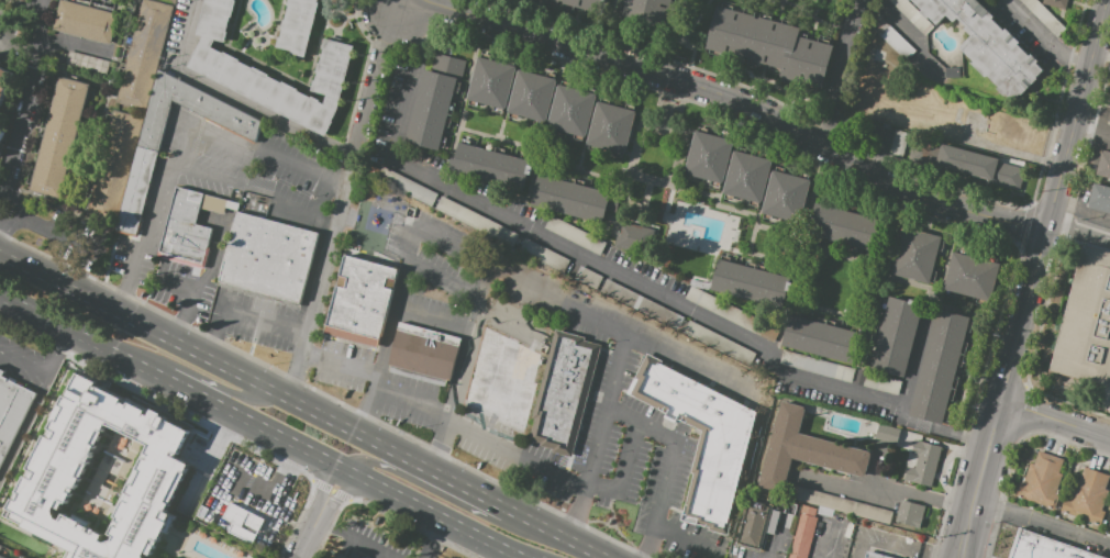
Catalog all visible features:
building: (122, 0)
building: (333, 0)
building: (908, 0)
building: (834, 1)
building: (1055, 3)
building: (584, 4)
road: (609, 7)
building: (646, 11)
road: (810, 15)
building: (912, 15)
building: (1044, 16)
building: (88, 19)
building: (297, 26)
road: (687, 32)
road: (911, 33)
building: (891, 37)
road: (18, 38)
road: (1045, 38)
road: (70, 44)
building: (769, 45)
building: (987, 45)
building: (142, 54)
road: (664, 58)
building: (86, 62)
building: (225, 70)
road: (835, 70)
building: (952, 72)
building: (932, 76)
building: (940, 80)
building: (491, 82)
building: (5, 83)
road: (376, 83)
road: (236, 96)
building: (531, 96)
building: (434, 100)
road: (731, 100)
building: (570, 111)
road: (19, 119)
building: (1109, 121)
building: (611, 126)
building: (1, 130)
road: (202, 136)
building: (58, 137)
building: (899, 144)
building: (708, 157)
building: (1103, 164)
building: (113, 166)
road: (823, 166)
building: (980, 166)
building: (489, 167)
road: (244, 168)
road: (299, 168)
road: (203, 175)
building: (746, 176)
building: (406, 186)
building: (138, 188)
road: (3, 189)
building: (785, 196)
building: (574, 197)
building: (1099, 198)
road: (1054, 200)
road: (287, 202)
building: (476, 221)
building: (189, 225)
building: (843, 226)
road: (38, 228)
road: (1079, 230)
building: (574, 234)
building: (628, 235)
road: (143, 236)
road: (579, 253)
building: (915, 255)
building: (543, 256)
building: (268, 257)
building: (970, 276)
road: (401, 277)
road: (320, 282)
building: (748, 282)
road: (71, 289)
road: (190, 291)
building: (360, 302)
building: (734, 315)
road: (476, 316)
road: (218, 322)
building: (1086, 322)
road: (270, 323)
road: (176, 325)
road: (623, 330)
building: (896, 335)
building: (820, 338)
road: (209, 345)
building: (424, 351)
road: (54, 353)
road: (22, 362)
building: (939, 366)
building: (815, 367)
building: (502, 380)
road: (212, 383)
road: (376, 386)
building: (563, 392)
road: (365, 409)
road: (904, 411)
building: (1109, 411)
building: (12, 414)
road: (1053, 420)
road: (248, 424)
road: (23, 425)
building: (887, 434)
road: (597, 435)
building: (701, 437)
road: (373, 438)
road: (218, 439)
road: (492, 443)
building: (803, 450)
parking lot: (633, 462)
road: (669, 462)
building: (922, 464)
road: (874, 470)
road: (623, 473)
road: (280, 475)
road: (978, 479)
building: (1042, 480)
road: (879, 483)
building: (153, 487)
road: (444, 496)
building: (1087, 496)
road: (346, 501)
building: (840, 504)
building: (809, 512)
road: (319, 514)
building: (909, 514)
building: (243, 518)
road: (1042, 522)
road: (322, 525)
building: (1109, 525)
building: (752, 527)
road: (417, 528)
road: (325, 533)
road: (432, 537)
building: (804, 537)
road: (686, 539)
road: (360, 542)
road: (886, 546)
parking lot: (887, 546)
road: (818, 548)
building: (1041, 548)
road: (496, 550)
road: (512, 550)
building: (870, 556)
building: (1, 557)
building: (328, 557)
road: (762, 557)
road: (921, 557)

